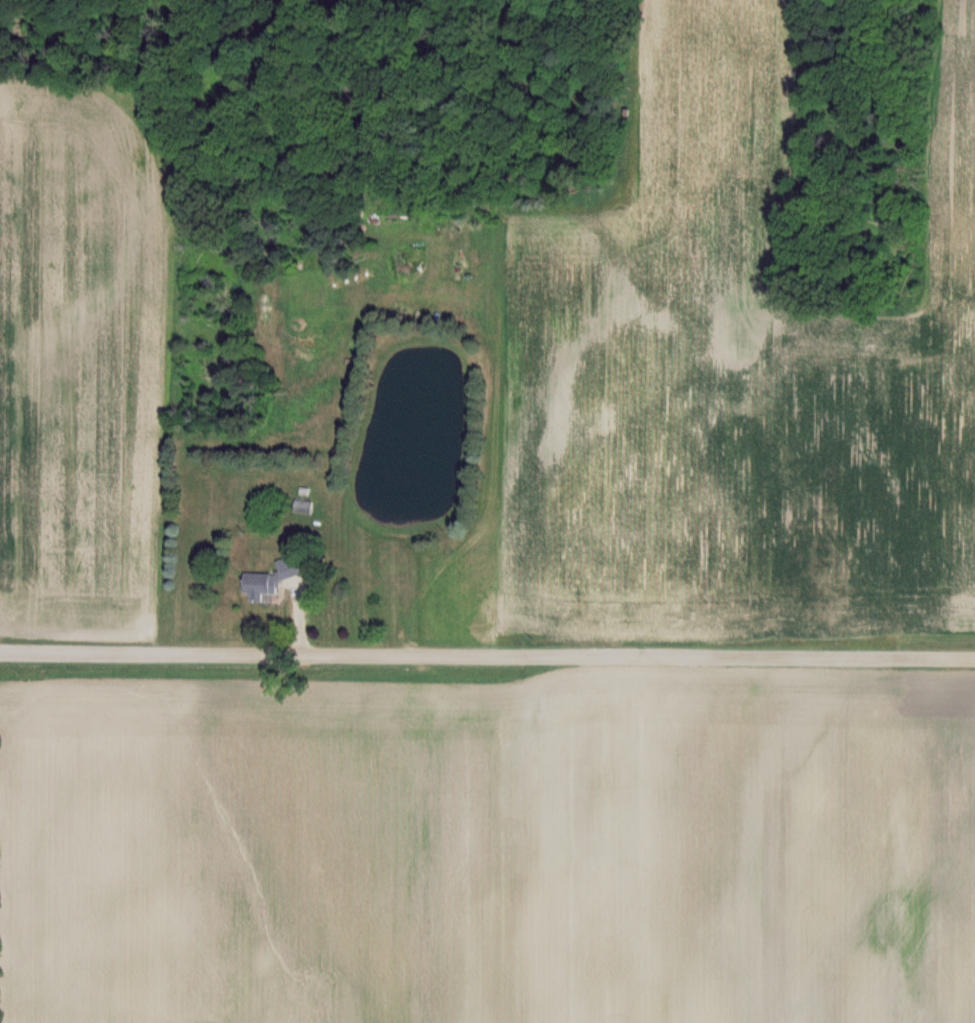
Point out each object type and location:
building: (270, 581)
road: (487, 654)

